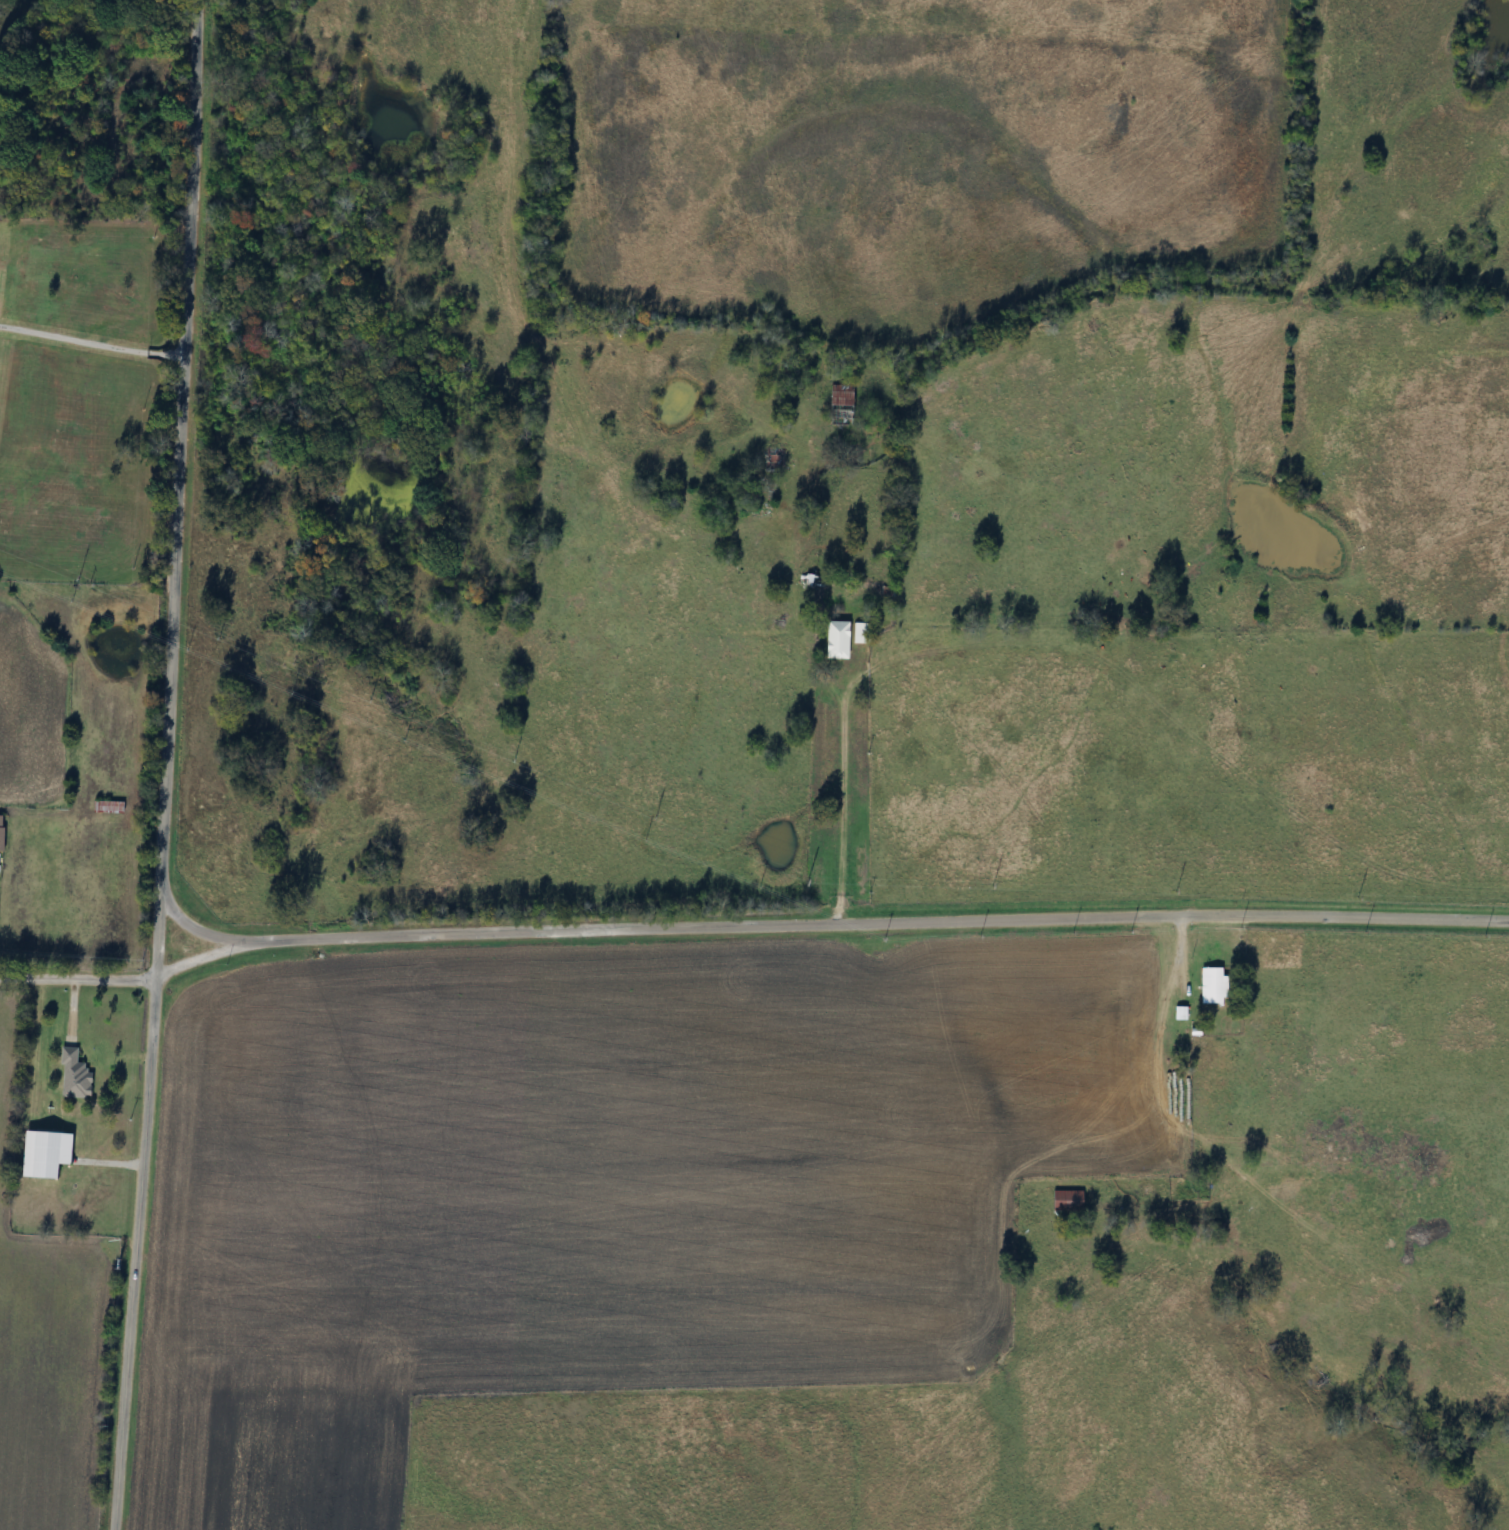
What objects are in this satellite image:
road: (90, 342)
building: (844, 396)
building: (839, 639)
road: (161, 765)
road: (846, 792)
building: (108, 806)
building: (2, 833)
road: (750, 924)
road: (197, 932)
road: (1169, 959)
building: (75, 1076)
building: (1069, 1201)

